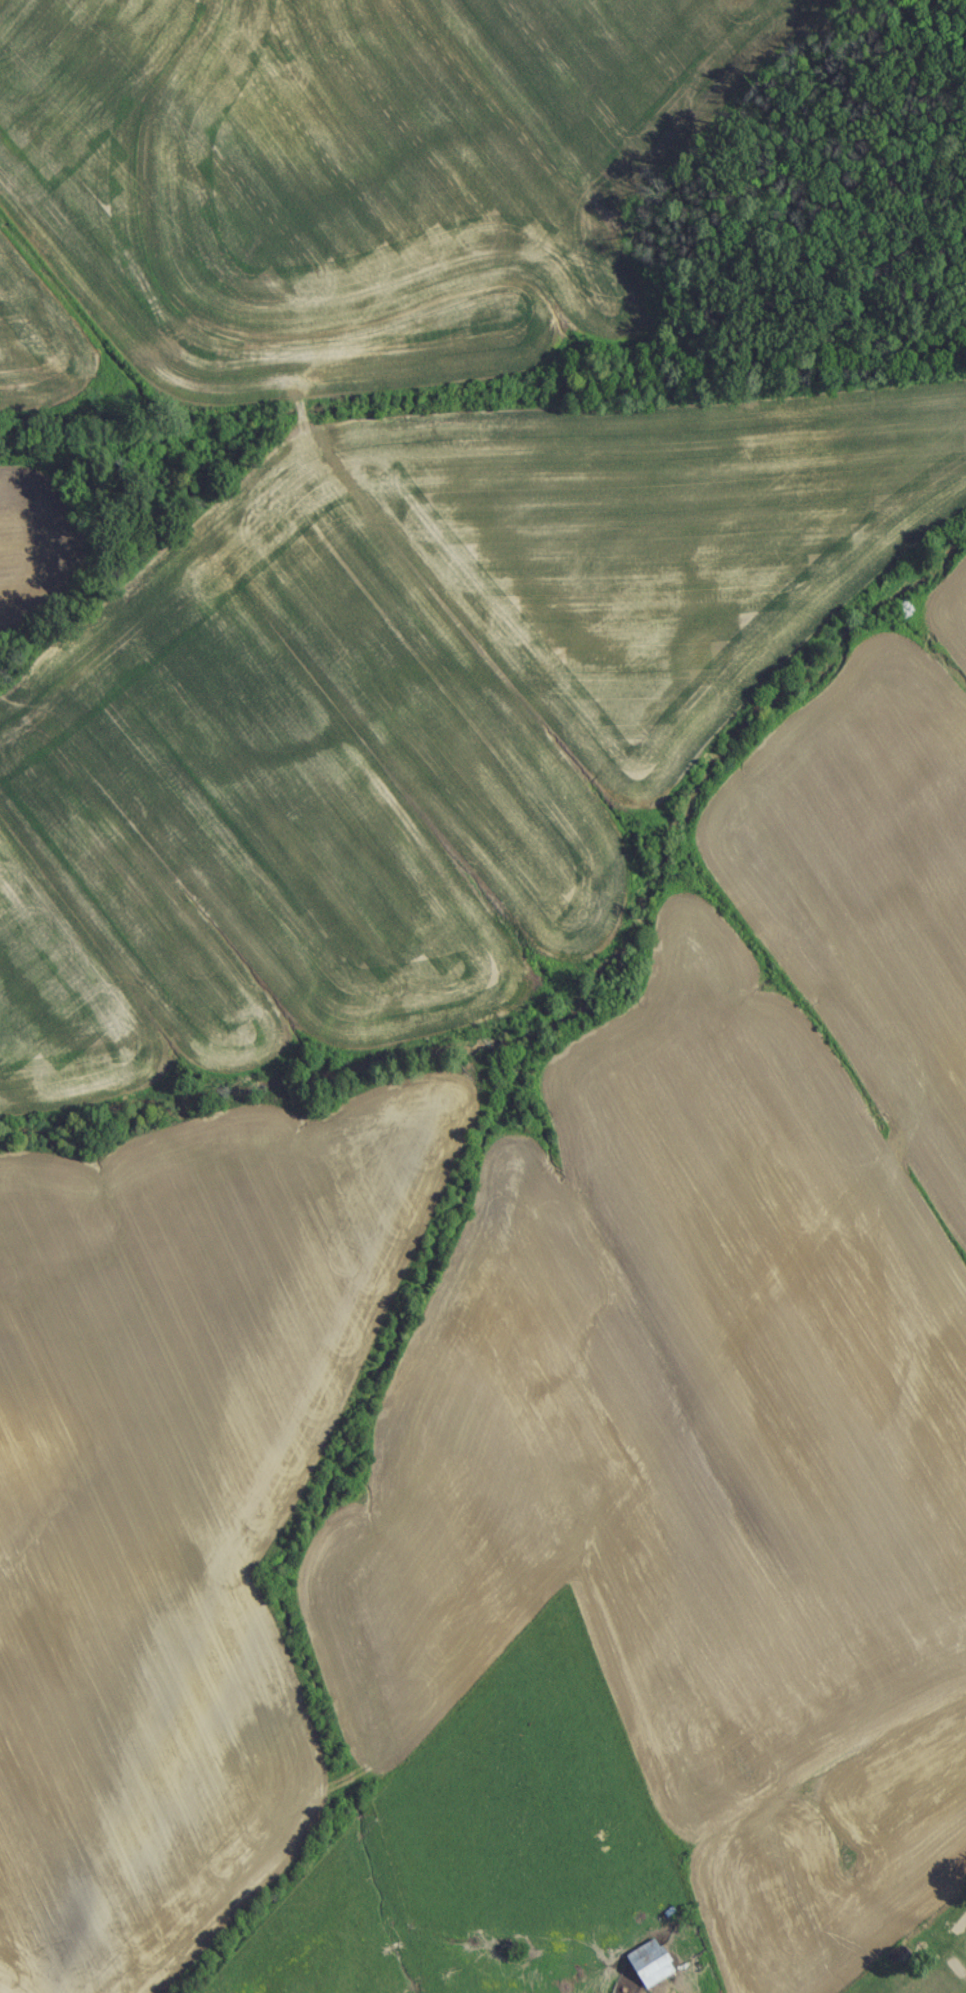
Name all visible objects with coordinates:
park: (912, 1944)
building: (649, 1969)
building: (617, 1992)

